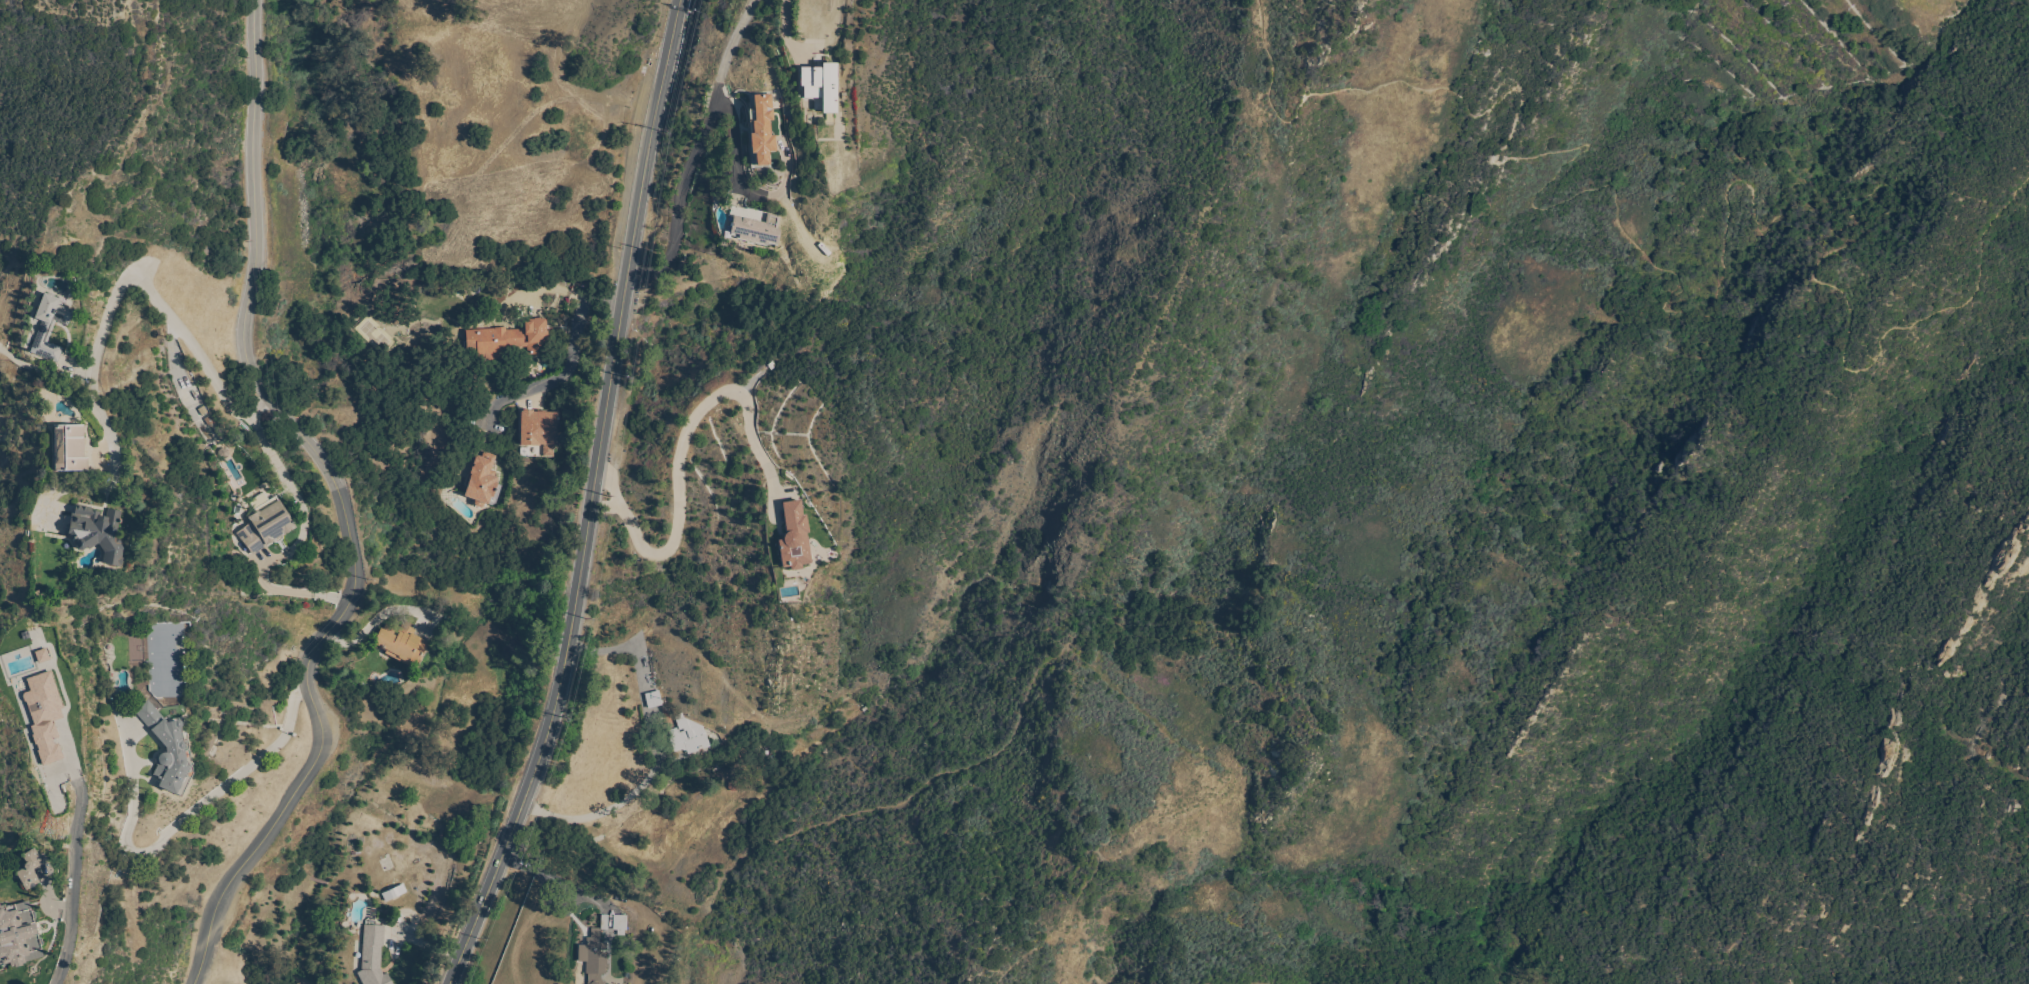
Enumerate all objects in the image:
building: (819, 86)
building: (761, 129)
road: (696, 152)
road: (768, 198)
building: (756, 229)
road: (122, 283)
road: (624, 302)
road: (1710, 302)
building: (48, 326)
building: (508, 339)
road: (568, 368)
building: (537, 428)
building: (69, 448)
road: (679, 478)
building: (481, 480)
road: (343, 500)
building: (265, 525)
building: (96, 532)
building: (793, 536)
road: (290, 547)
road: (376, 620)
building: (401, 644)
building: (40, 655)
building: (653, 699)
building: (42, 716)
building: (687, 735)
building: (170, 752)
road: (654, 753)
road: (525, 798)
road: (183, 818)
building: (28, 869)
road: (556, 880)
building: (393, 892)
road: (72, 895)
building: (618, 924)
building: (18, 935)
building: (594, 953)
building: (372, 956)
road: (1258, 981)

